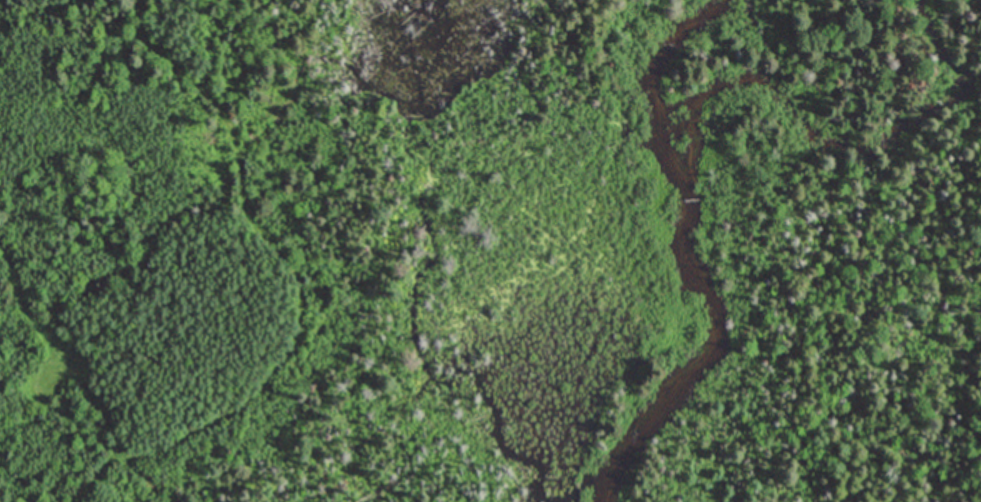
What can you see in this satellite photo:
river: (680, 247)

